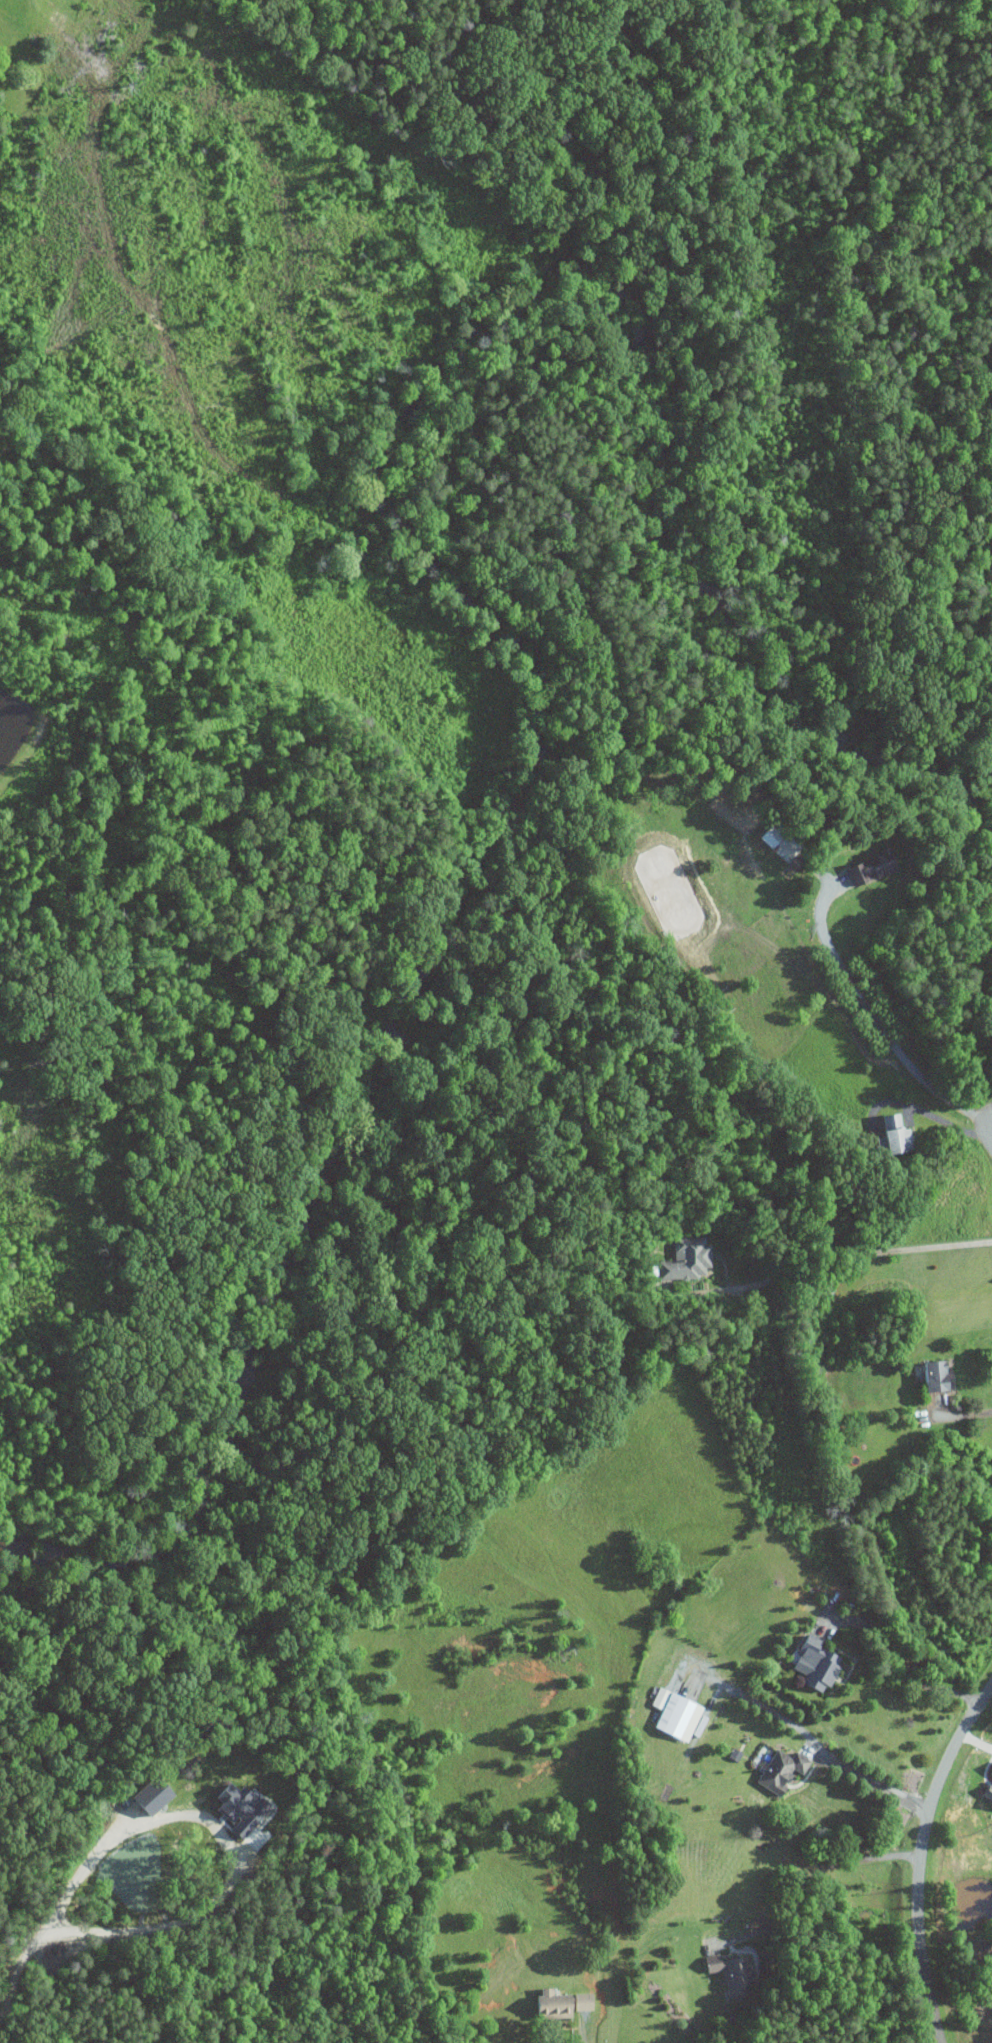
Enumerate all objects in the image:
building: (869, 870)
road: (874, 1019)
road: (946, 1122)
building: (887, 1134)
road: (828, 1239)
building: (682, 1259)
building: (926, 1376)
road: (969, 1414)
building: (810, 1664)
road: (890, 1672)
building: (670, 1715)
road: (817, 1744)
building: (734, 1755)
building: (780, 1771)
building: (987, 1787)
building: (142, 1797)
road: (921, 1858)
road: (812, 1874)
road: (70, 1886)
building: (726, 1974)
building: (556, 2004)
road: (585, 2042)

